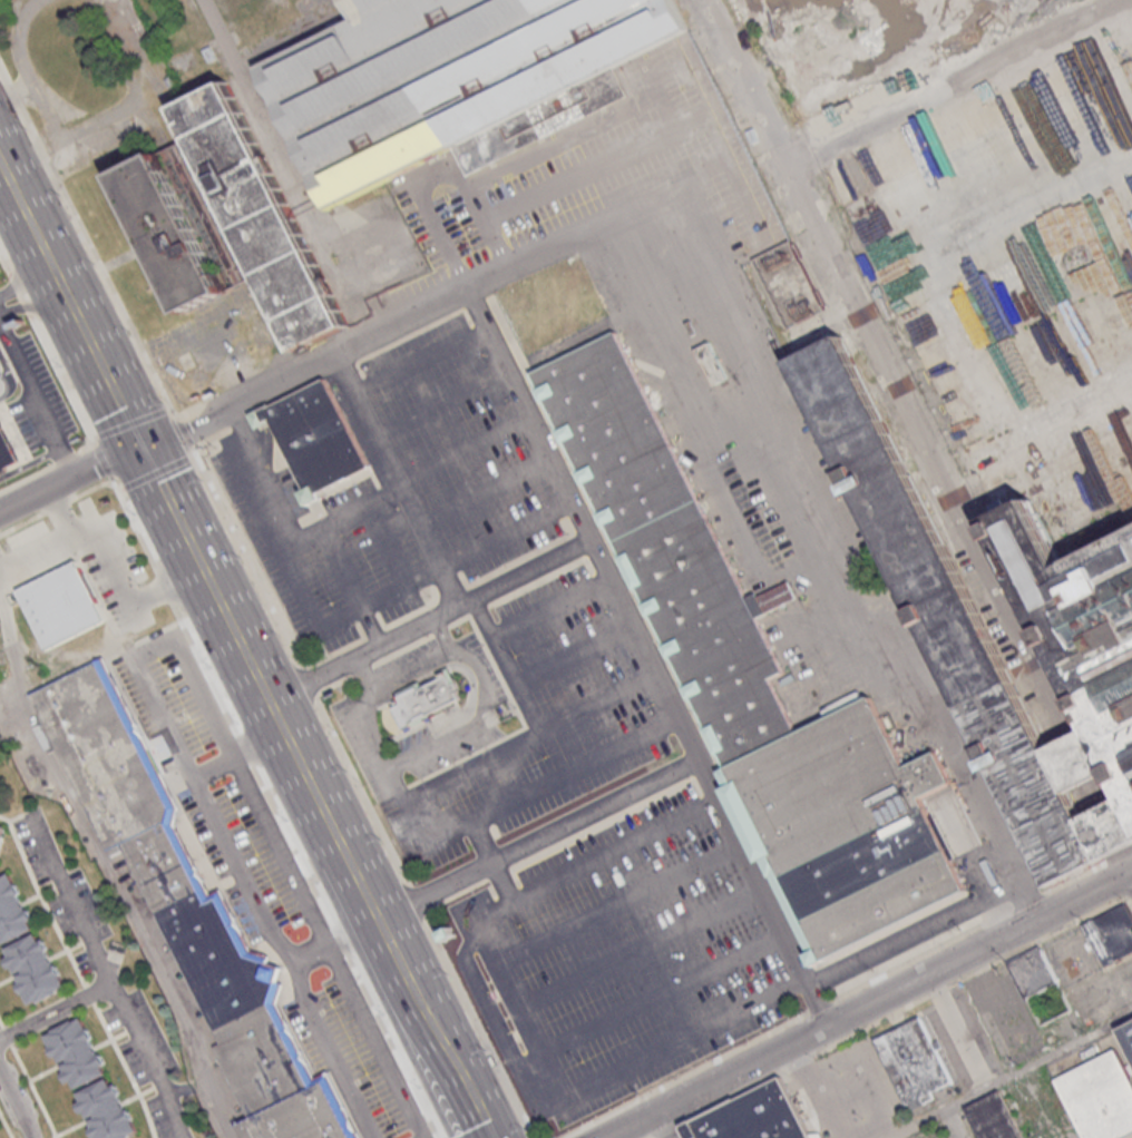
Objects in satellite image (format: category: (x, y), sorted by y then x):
road: (25, 68)
building: (440, 78)
road: (23, 88)
road: (136, 89)
road: (19, 100)
building: (1036, 105)
road: (65, 106)
road: (155, 114)
building: (537, 126)
road: (50, 141)
road: (974, 150)
road: (48, 158)
parking lot: (597, 174)
building: (206, 217)
building: (260, 217)
building: (168, 236)
road: (120, 256)
road: (939, 261)
road: (504, 262)
road: (6, 266)
road: (25, 278)
building: (790, 291)
road: (22, 300)
road: (118, 300)
road: (33, 301)
road: (72, 302)
road: (416, 317)
road: (182, 330)
road: (275, 333)
building: (710, 362)
road: (885, 370)
road: (3, 377)
road: (7, 379)
road: (66, 383)
road: (36, 402)
road: (1035, 432)
road: (186, 434)
traffic signals: (143, 442)
building: (319, 442)
building: (6, 449)
parking lot: (463, 449)
traffic signals: (148, 455)
road: (29, 462)
road: (105, 463)
road: (71, 477)
road: (396, 482)
road: (139, 527)
road: (287, 528)
road: (840, 542)
building: (670, 546)
road: (35, 556)
road: (250, 559)
parking lot: (328, 560)
road: (113, 563)
road: (207, 573)
road: (170, 591)
road: (471, 598)
building: (60, 605)
building: (946, 609)
building: (1105, 612)
road: (153, 648)
building: (1093, 651)
road: (646, 658)
road: (508, 666)
road: (413, 674)
road: (363, 675)
road: (313, 678)
road: (313, 685)
building: (1121, 685)
road: (217, 687)
building: (426, 697)
road: (482, 708)
road: (279, 714)
parking lot: (543, 725)
road: (373, 734)
road: (291, 739)
road: (260, 742)
road: (513, 748)
building: (1081, 758)
road: (213, 765)
road: (365, 794)
road: (530, 795)
road: (1095, 795)
road: (322, 803)
building: (847, 823)
building: (1111, 825)
building: (2, 833)
road: (538, 837)
road: (482, 843)
road: (293, 844)
road: (281, 850)
road: (615, 852)
road: (1128, 859)
road: (108, 871)
road: (240, 871)
parking lot: (264, 880)
road: (363, 887)
road: (417, 902)
road: (1128, 902)
building: (187, 906)
building: (13, 910)
road: (929, 928)
road: (352, 931)
building: (1111, 934)
road: (340, 938)
road: (391, 942)
road: (311, 952)
parking lot: (615, 962)
building: (35, 968)
building: (1033, 972)
road: (104, 978)
road: (416, 990)
road: (866, 1003)
road: (53, 1013)
road: (480, 1028)
building: (1128, 1036)
road: (375, 1041)
road: (394, 1047)
road: (328, 1050)
building: (77, 1052)
building: (910, 1060)
road: (1012, 1076)
road: (460, 1077)
road: (556, 1095)
building: (1099, 1097)
building: (107, 1110)
road: (12, 1111)
building: (752, 1116)
building: (993, 1117)
road: (666, 1122)

